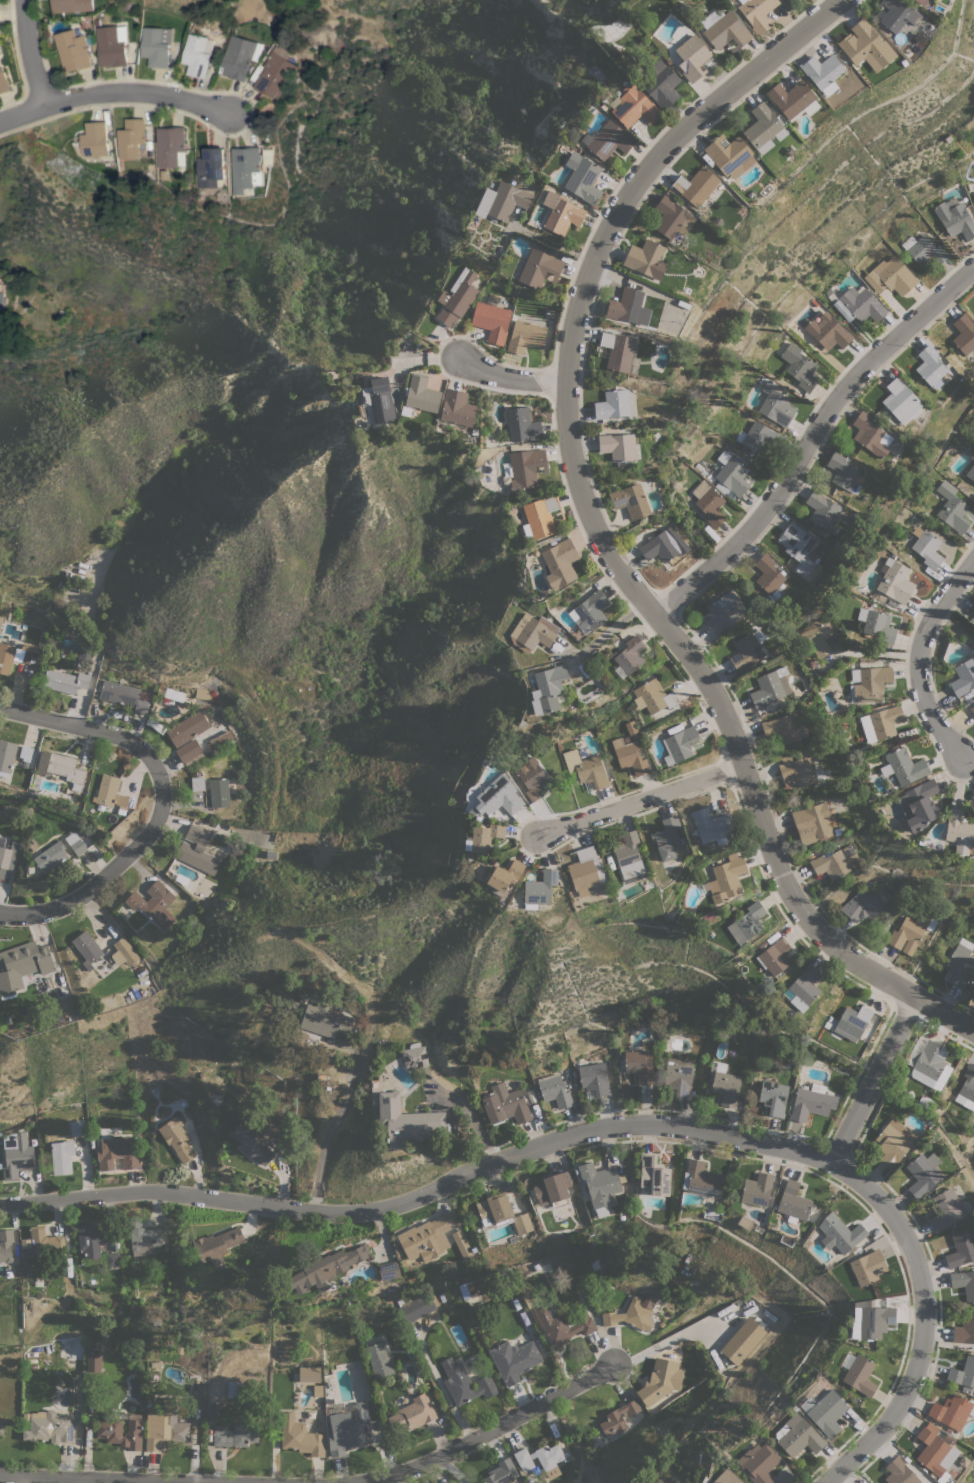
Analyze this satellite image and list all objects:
building: (921, 2)
building: (70, 6)
building: (757, 13)
building: (898, 14)
building: (724, 29)
building: (110, 45)
building: (154, 46)
building: (866, 46)
building: (71, 50)
road: (31, 51)
building: (195, 54)
building: (692, 57)
building: (236, 58)
building: (823, 72)
building: (273, 75)
building: (3, 82)
building: (662, 84)
road: (118, 94)
building: (793, 99)
building: (633, 106)
building: (764, 128)
building: (129, 139)
building: (92, 140)
building: (607, 140)
building: (168, 146)
building: (729, 154)
building: (209, 168)
building: (243, 169)
building: (582, 178)
building: (696, 186)
building: (973, 194)
building: (502, 201)
building: (561, 213)
building: (669, 216)
building: (955, 218)
road: (540, 237)
building: (924, 250)
building: (644, 257)
building: (539, 268)
building: (890, 276)
building: (457, 298)
building: (0, 301)
building: (862, 304)
building: (625, 305)
building: (843, 310)
building: (491, 318)
building: (828, 332)
building: (525, 334)
building: (964, 334)
building: (618, 351)
building: (930, 366)
building: (800, 367)
road: (517, 375)
building: (420, 395)
building: (379, 400)
building: (901, 401)
building: (613, 404)
building: (775, 404)
building: (456, 408)
building: (522, 425)
building: (871, 435)
building: (760, 437)
road: (814, 442)
building: (618, 446)
building: (972, 456)
building: (526, 469)
building: (843, 472)
building: (970, 472)
building: (731, 475)
building: (631, 501)
building: (709, 503)
building: (952, 508)
building: (822, 509)
building: (541, 516)
road: (600, 533)
building: (663, 545)
building: (926, 546)
building: (800, 548)
building: (560, 563)
building: (769, 576)
building: (896, 581)
building: (589, 611)
building: (972, 612)
building: (721, 613)
building: (877, 625)
road: (954, 629)
road: (610, 630)
building: (532, 633)
building: (817, 637)
building: (746, 651)
building: (629, 655)
building: (15, 656)
road: (919, 658)
building: (963, 677)
building: (67, 681)
building: (871, 684)
building: (770, 687)
building: (547, 689)
building: (203, 693)
building: (123, 695)
building: (171, 695)
building: (653, 696)
building: (972, 709)
building: (881, 723)
building: (155, 725)
building: (187, 728)
building: (782, 729)
road: (100, 734)
building: (219, 740)
building: (679, 744)
building: (189, 752)
building: (26, 755)
building: (629, 756)
building: (7, 757)
building: (903, 766)
building: (586, 768)
building: (66, 769)
building: (798, 769)
building: (532, 777)
building: (197, 782)
building: (110, 792)
building: (219, 792)
building: (973, 797)
building: (500, 798)
road: (642, 804)
building: (918, 805)
building: (812, 822)
building: (710, 825)
building: (958, 831)
building: (484, 837)
building: (667, 838)
building: (78, 846)
building: (197, 850)
building: (628, 855)
building: (6, 856)
building: (51, 856)
building: (834, 863)
building: (586, 870)
building: (504, 875)
building: (726, 878)
road: (100, 886)
building: (539, 889)
building: (863, 904)
building: (154, 905)
building: (747, 923)
building: (911, 931)
building: (87, 949)
building: (123, 952)
building: (775, 956)
building: (961, 963)
building: (22, 966)
building: (63, 988)
building: (804, 988)
building: (324, 1020)
building: (852, 1022)
building: (414, 1056)
building: (928, 1062)
building: (640, 1065)
building: (679, 1076)
building: (594, 1078)
road: (875, 1080)
building: (725, 1085)
building: (968, 1086)
building: (554, 1090)
building: (773, 1097)
building: (812, 1102)
building: (505, 1105)
road: (468, 1112)
building: (406, 1121)
road: (331, 1125)
building: (77, 1128)
road: (605, 1131)
building: (176, 1138)
building: (252, 1142)
building: (893, 1142)
building: (116, 1153)
building: (16, 1154)
building: (61, 1157)
building: (923, 1173)
building: (654, 1176)
building: (701, 1179)
building: (600, 1185)
building: (552, 1189)
building: (757, 1190)
building: (793, 1201)
building: (496, 1208)
building: (945, 1210)
building: (522, 1223)
building: (839, 1233)
building: (142, 1236)
building: (427, 1237)
building: (91, 1240)
building: (46, 1242)
building: (6, 1245)
building: (217, 1245)
building: (961, 1248)
building: (112, 1259)
building: (325, 1267)
building: (868, 1267)
building: (389, 1270)
building: (964, 1283)
building: (475, 1287)
building: (417, 1306)
building: (632, 1312)
building: (871, 1320)
building: (563, 1325)
building: (964, 1330)
building: (395, 1331)
building: (743, 1341)
building: (514, 1359)
building: (379, 1360)
building: (93, 1362)
building: (963, 1372)
building: (309, 1374)
building: (860, 1375)
building: (660, 1380)
building: (464, 1382)
building: (234, 1389)
building: (824, 1410)
building: (952, 1411)
building: (412, 1415)
building: (618, 1418)
building: (47, 1426)
building: (1, 1427)
building: (166, 1428)
building: (349, 1429)
road: (495, 1430)
building: (121, 1431)
building: (235, 1435)
building: (300, 1436)
building: (798, 1438)
building: (934, 1451)
building: (541, 1459)
building: (758, 1463)
building: (502, 1472)
building: (899, 1472)
building: (726, 1477)
road: (57, 1481)

